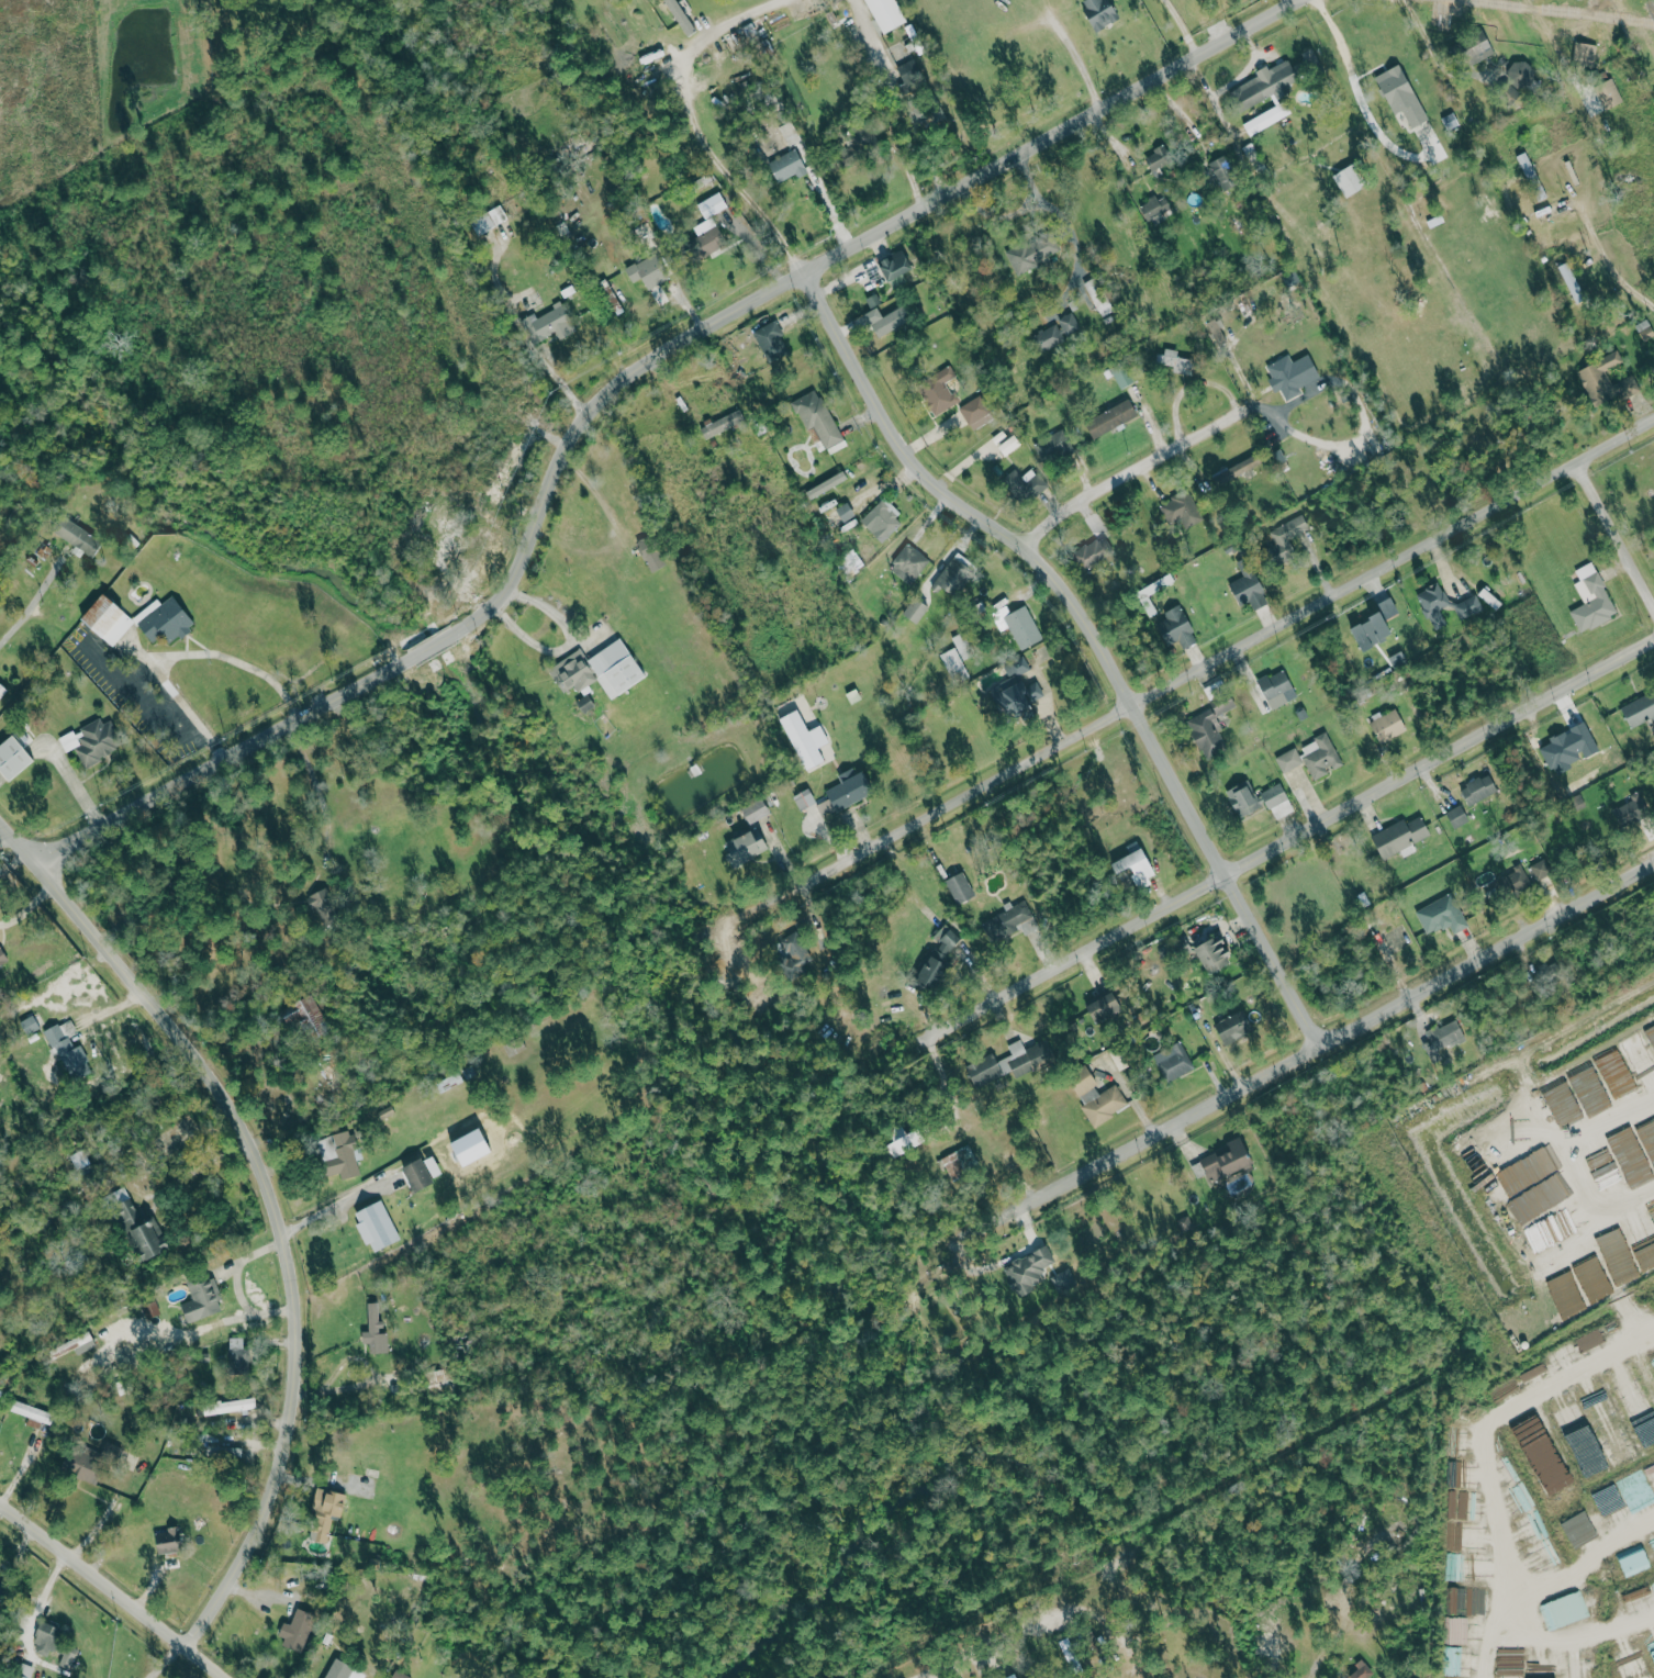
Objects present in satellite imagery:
road: (1292, 2)
building: (1099, 13)
building: (885, 14)
building: (680, 16)
road: (1183, 26)
building: (1473, 48)
road: (1430, 49)
building: (1584, 53)
road: (1077, 64)
building: (912, 77)
building: (1522, 80)
building: (1265, 86)
building: (1401, 94)
building: (1608, 94)
road: (895, 99)
road: (1361, 102)
building: (1266, 119)
building: (1450, 121)
road: (694, 126)
building: (790, 135)
building: (787, 166)
building: (1225, 172)
building: (1531, 177)
building: (1349, 181)
building: (712, 205)
building: (1156, 210)
building: (488, 220)
building: (706, 238)
building: (1031, 253)
road: (1607, 260)
building: (895, 267)
building: (648, 271)
building: (1572, 282)
building: (1099, 297)
building: (890, 322)
building: (548, 324)
building: (1069, 325)
building: (1645, 331)
road: (523, 334)
building: (1049, 338)
building: (769, 342)
building: (1177, 362)
building: (1292, 373)
building: (1122, 374)
building: (1605, 381)
road: (618, 383)
building: (939, 389)
building: (976, 412)
building: (817, 416)
building: (1111, 417)
building: (722, 423)
building: (1009, 445)
building: (1052, 447)
building: (1237, 469)
road: (1131, 472)
building: (1024, 484)
road: (1609, 506)
building: (1181, 508)
building: (845, 511)
building: (882, 519)
building: (77, 535)
building: (1286, 538)
building: (650, 552)
building: (1092, 553)
building: (908, 566)
building: (952, 577)
building: (1247, 579)
building: (1591, 599)
building: (1434, 605)
road: (29, 608)
building: (1469, 608)
building: (916, 609)
building: (138, 619)
building: (1376, 625)
building: (1022, 627)
building: (1176, 627)
road: (1095, 630)
road: (569, 647)
road: (181, 653)
road: (1204, 661)
building: (953, 664)
building: (599, 670)
building: (1277, 687)
building: (1015, 689)
building: (1640, 711)
building: (1388, 726)
building: (1207, 732)
building: (805, 739)
building: (90, 741)
building: (1568, 748)
building: (1320, 756)
building: (13, 758)
building: (1288, 760)
building: (849, 787)
building: (1478, 788)
building: (804, 798)
building: (1243, 799)
building: (1277, 801)
building: (825, 808)
building: (756, 809)
building: (1629, 812)
building: (1457, 816)
road: (1292, 836)
building: (1400, 836)
building: (746, 847)
building: (1137, 866)
building: (1515, 880)
building: (960, 887)
building: (1441, 915)
building: (1009, 921)
building: (794, 953)
building: (1214, 954)
building: (939, 958)
building: (1105, 1007)
building: (308, 1016)
building: (1236, 1026)
road: (1325, 1040)
building: (1443, 1040)
building: (68, 1053)
building: (1173, 1062)
building: (1010, 1063)
building: (1588, 1089)
building: (1096, 1096)
road: (1564, 1108)
building: (1647, 1140)
building: (905, 1142)
building: (1510, 1144)
building: (339, 1154)
building: (1631, 1159)
building: (1541, 1161)
building: (959, 1162)
building: (1223, 1162)
building: (1605, 1172)
building: (422, 1173)
road: (186, 1174)
building: (1538, 1198)
road: (278, 1200)
road: (338, 1204)
road: (1639, 1226)
building: (376, 1227)
building: (1552, 1229)
building: (138, 1230)
road: (1639, 1269)
building: (1028, 1271)
building: (198, 1300)
building: (375, 1331)
building: (237, 1355)
road: (1611, 1367)
building: (225, 1407)
building: (32, 1412)
building: (1583, 1442)
building: (110, 1450)
building: (223, 1452)
building: (82, 1466)
building: (324, 1513)
building: (1587, 1526)
building: (168, 1541)
building: (1634, 1563)
road: (115, 1587)
road: (43, 1592)
building: (1565, 1610)
building: (295, 1630)
building: (53, 1644)
road: (983, 1644)
building: (1540, 1667)
building: (23, 1670)
building: (343, 1670)
building: (1360, 1673)
building: (396, 1676)

